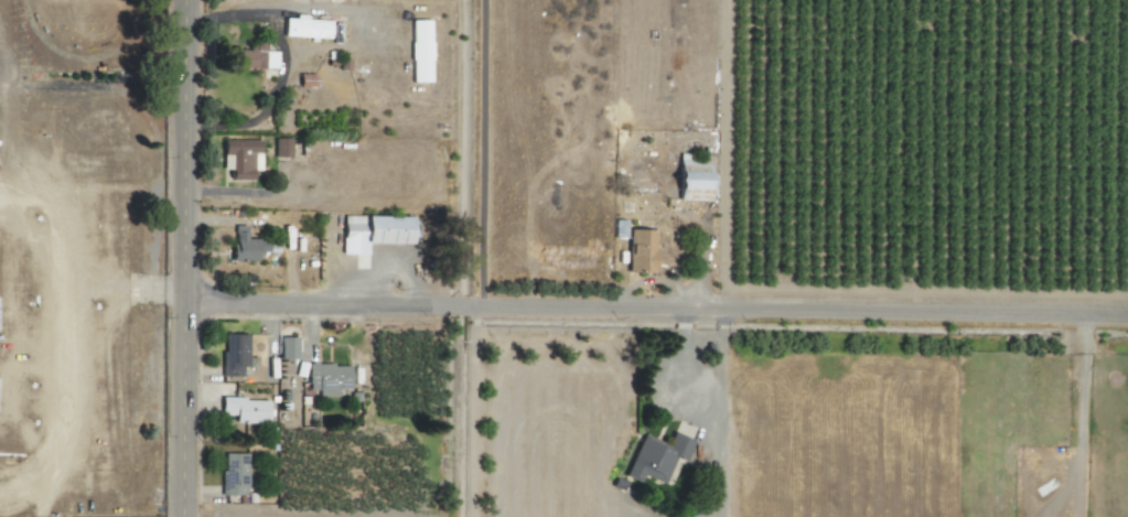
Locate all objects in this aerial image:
building: (303, 26)
building: (419, 51)
railway: (79, 55)
railway: (85, 61)
building: (280, 147)
building: (239, 158)
building: (691, 179)
building: (370, 231)
building: (244, 245)
building: (638, 250)
road: (187, 258)
road: (657, 306)
building: (287, 347)
building: (234, 354)
building: (327, 378)
building: (245, 410)
building: (654, 457)
building: (233, 474)

